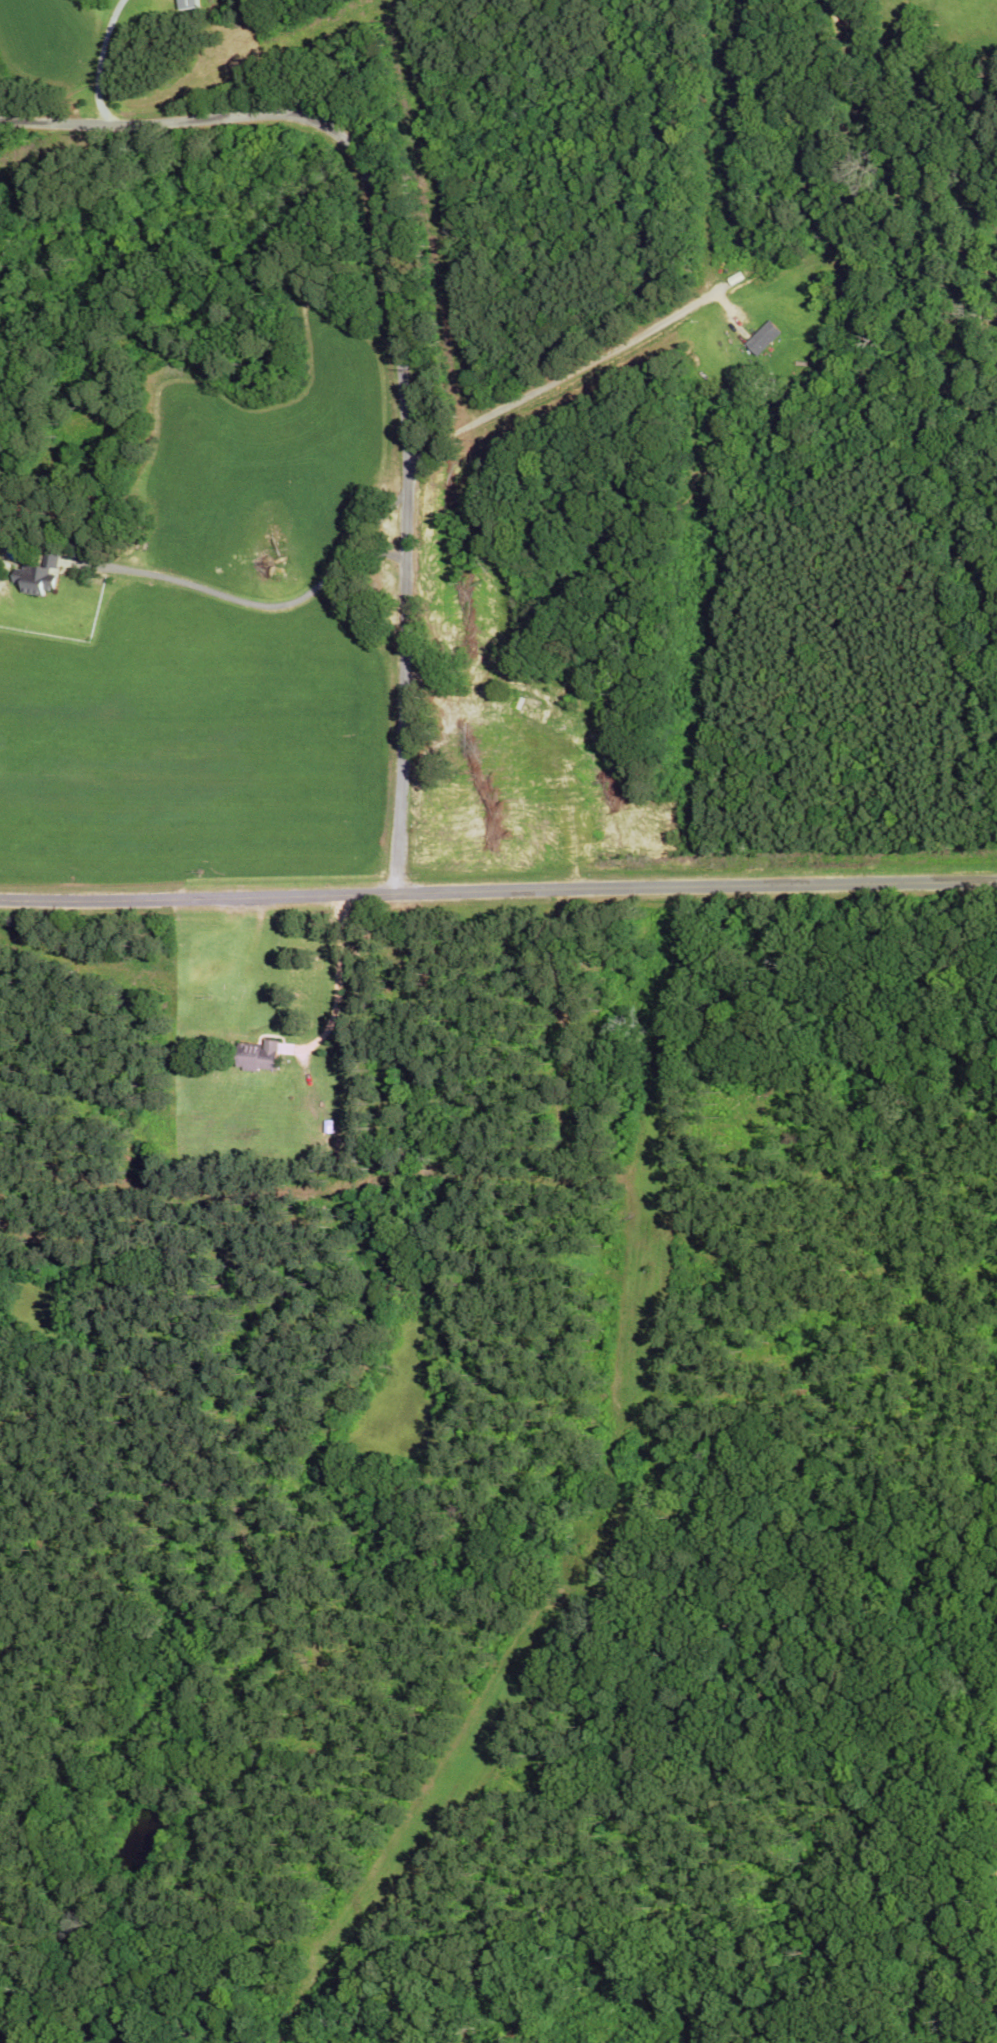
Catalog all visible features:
building: (189, 6)
road: (336, 134)
building: (763, 342)
road: (562, 376)
building: (41, 579)
road: (401, 679)
building: (531, 713)
road: (498, 893)
building: (259, 1059)

